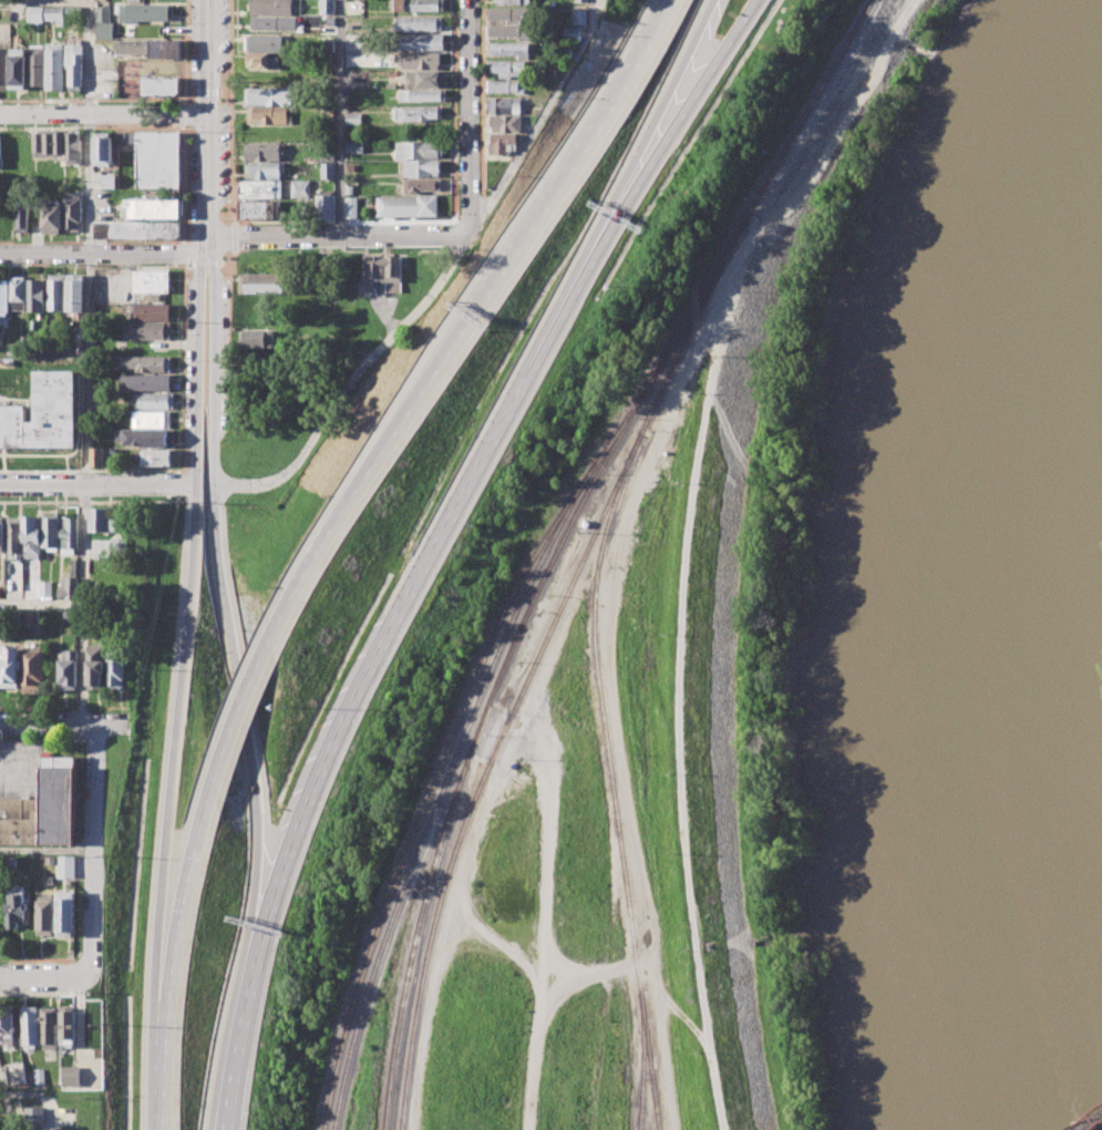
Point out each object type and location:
road: (43, 0)
building: (583, 0)
building: (513, 1)
building: (420, 4)
building: (272, 7)
building: (328, 7)
building: (73, 11)
building: (145, 11)
building: (35, 13)
building: (54, 13)
building: (102, 13)
building: (511, 14)
building: (579, 17)
building: (331, 20)
building: (274, 22)
building: (419, 23)
building: (104, 30)
building: (508, 30)
building: (574, 33)
building: (422, 41)
building: (266, 42)
building: (327, 45)
building: (151, 48)
building: (509, 49)
building: (564, 50)
building: (418, 60)
building: (261, 61)
building: (74, 62)
building: (35, 64)
building: (54, 65)
building: (507, 66)
building: (3, 68)
building: (18, 68)
building: (423, 79)
building: (161, 85)
building: (506, 85)
building: (422, 94)
building: (270, 96)
building: (505, 105)
railway: (806, 110)
road: (103, 113)
road: (230, 113)
building: (416, 113)
road: (539, 114)
building: (267, 115)
road: (468, 115)
road: (658, 115)
road: (679, 115)
road: (340, 116)
road: (206, 117)
building: (353, 117)
building: (506, 123)
building: (48, 143)
building: (501, 143)
building: (11, 147)
building: (73, 147)
building: (102, 147)
building: (354, 147)
building: (418, 150)
building: (264, 151)
building: (328, 154)
building: (158, 160)
building: (350, 167)
building: (421, 167)
building: (264, 169)
building: (328, 171)
building: (106, 181)
building: (420, 184)
building: (301, 188)
building: (260, 189)
railway: (769, 198)
building: (408, 205)
building: (350, 206)
building: (326, 207)
building: (153, 208)
building: (260, 209)
building: (72, 212)
building: (21, 216)
building: (51, 216)
road: (452, 219)
building: (136, 229)
road: (337, 235)
road: (234, 237)
road: (205, 245)
road: (102, 255)
building: (383, 270)
building: (151, 281)
building: (262, 284)
railway: (703, 289)
building: (55, 291)
building: (74, 291)
building: (17, 292)
building: (35, 295)
building: (3, 297)
road: (481, 297)
road: (228, 299)
building: (151, 312)
building: (150, 330)
building: (1, 339)
building: (53, 339)
building: (256, 339)
road: (87, 342)
road: (43, 352)
building: (7, 361)
building: (150, 363)
road: (197, 368)
road: (212, 368)
road: (350, 379)
building: (145, 382)
building: (154, 401)
railway: (630, 410)
building: (43, 414)
building: (150, 419)
building: (146, 436)
building: (101, 456)
building: (157, 458)
road: (96, 483)
building: (101, 520)
building: (586, 523)
building: (50, 531)
building: (1, 533)
building: (69, 533)
building: (31, 536)
road: (689, 536)
building: (13, 537)
building: (120, 546)
building: (70, 583)
building: (45, 588)
river: (989, 604)
building: (31, 618)
road: (368, 661)
railway: (535, 664)
building: (9, 665)
building: (32, 666)
building: (94, 666)
building: (68, 669)
building: (115, 671)
road: (239, 708)
road: (617, 711)
road: (61, 723)
railway: (480, 728)
road: (243, 729)
road: (173, 733)
road: (42, 738)
road: (523, 743)
railway: (612, 780)
railway: (433, 785)
railway: (444, 788)
building: (43, 807)
road: (94, 845)
road: (47, 850)
building: (9, 862)
building: (66, 867)
building: (17, 907)
road: (182, 907)
building: (47, 913)
building: (66, 914)
road: (498, 943)
road: (599, 972)
road: (44, 975)
railway: (607, 975)
building: (69, 1025)
building: (7, 1026)
building: (31, 1026)
building: (50, 1028)
road: (161, 1057)
railway: (642, 1060)
building: (16, 1072)
building: (73, 1075)
building: (40, 1076)
road: (7, 1106)
building: (35, 1117)
railway: (1092, 1123)

